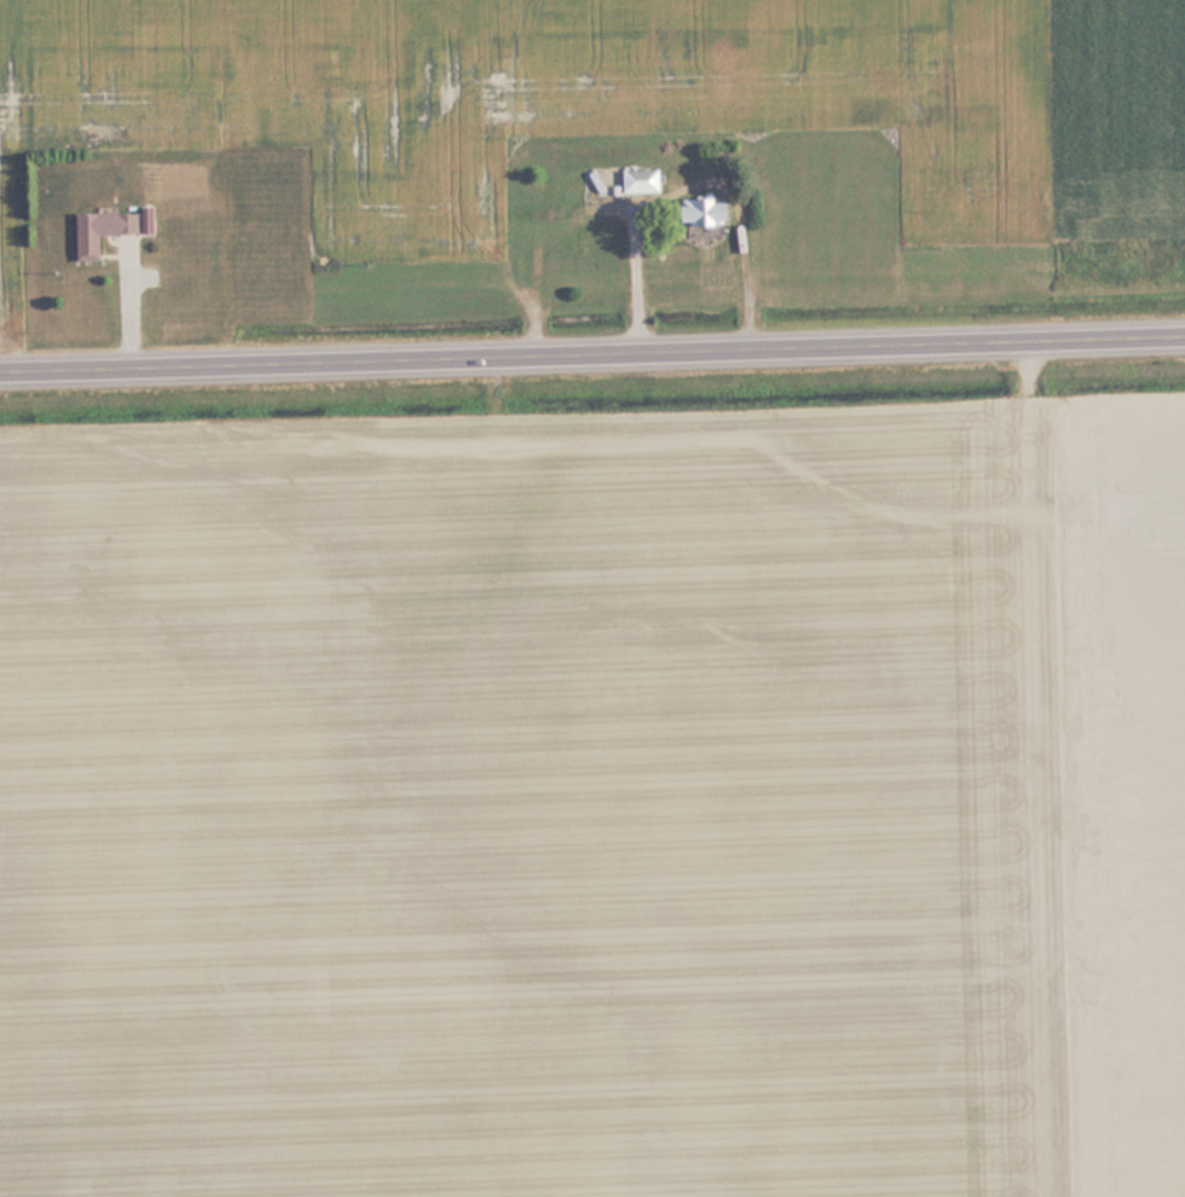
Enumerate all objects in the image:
building: (644, 181)
building: (711, 213)
building: (105, 231)
road: (592, 353)

